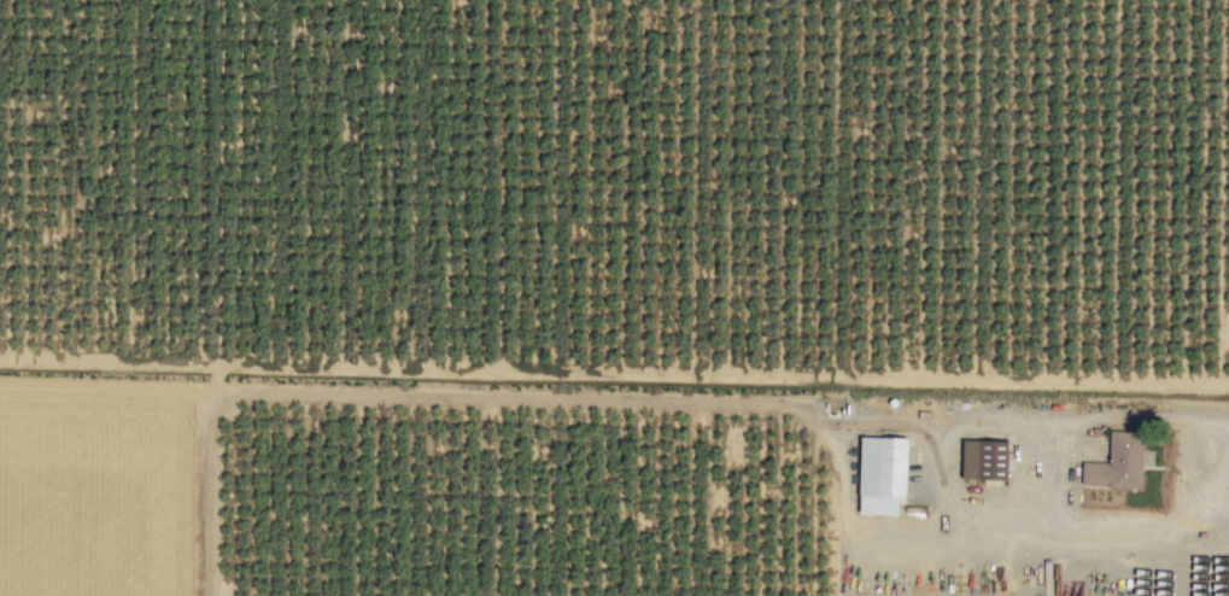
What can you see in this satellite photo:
building: (987, 458)
building: (1120, 462)
building: (886, 473)
road: (937, 479)
road: (1050, 479)

